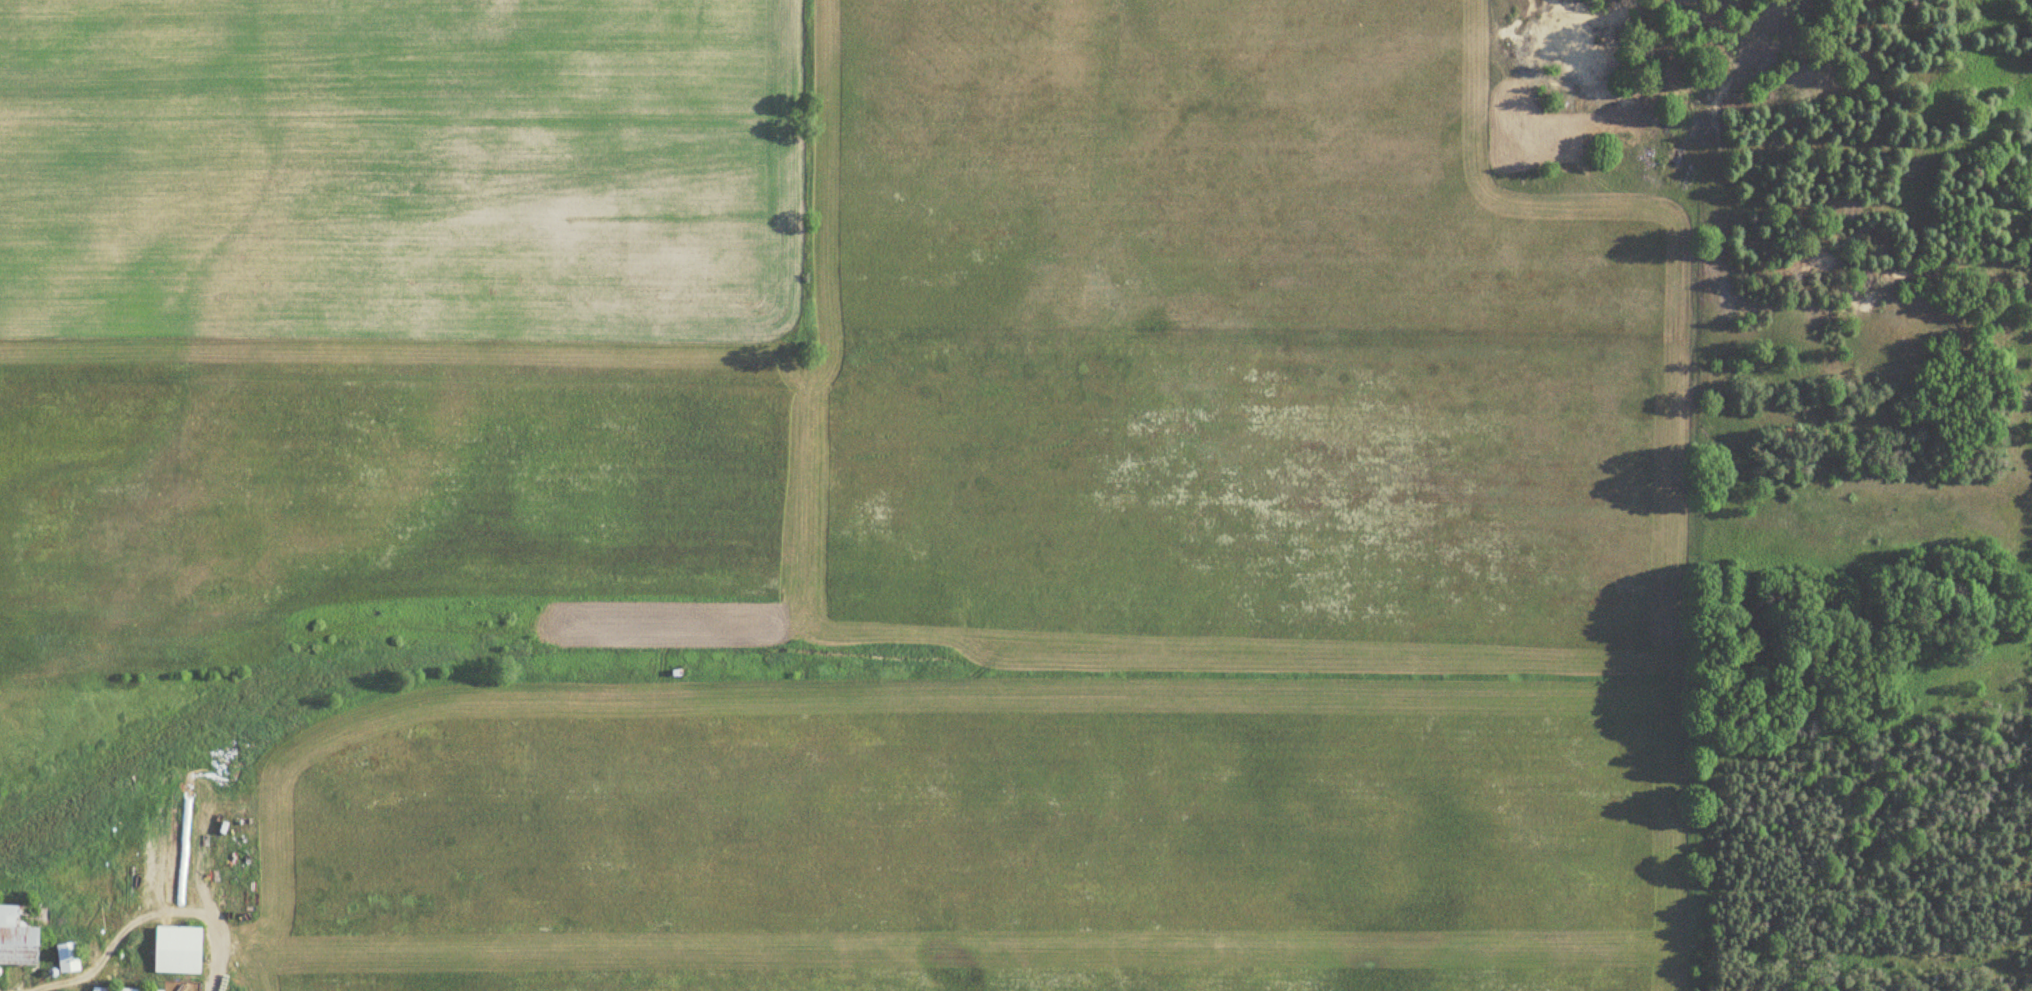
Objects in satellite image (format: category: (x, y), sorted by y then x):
building: (14, 935)
building: (172, 950)
building: (64, 957)
building: (117, 989)

